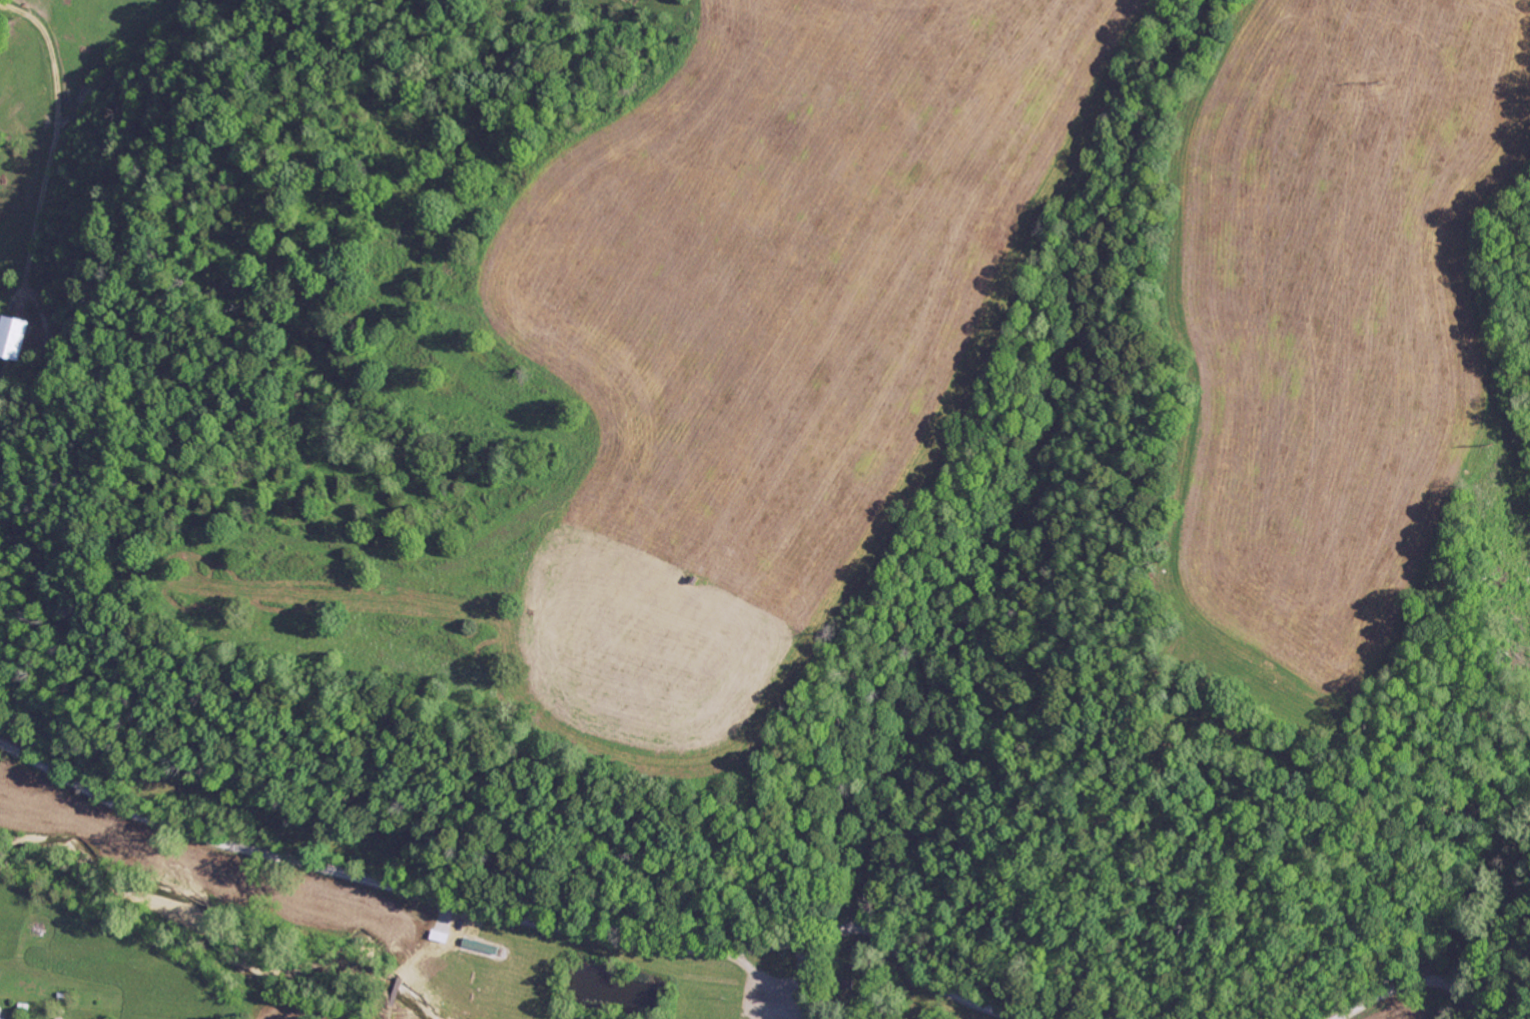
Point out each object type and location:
building: (12, 337)
road: (506, 916)
road: (1413, 989)
building: (1, 1013)

